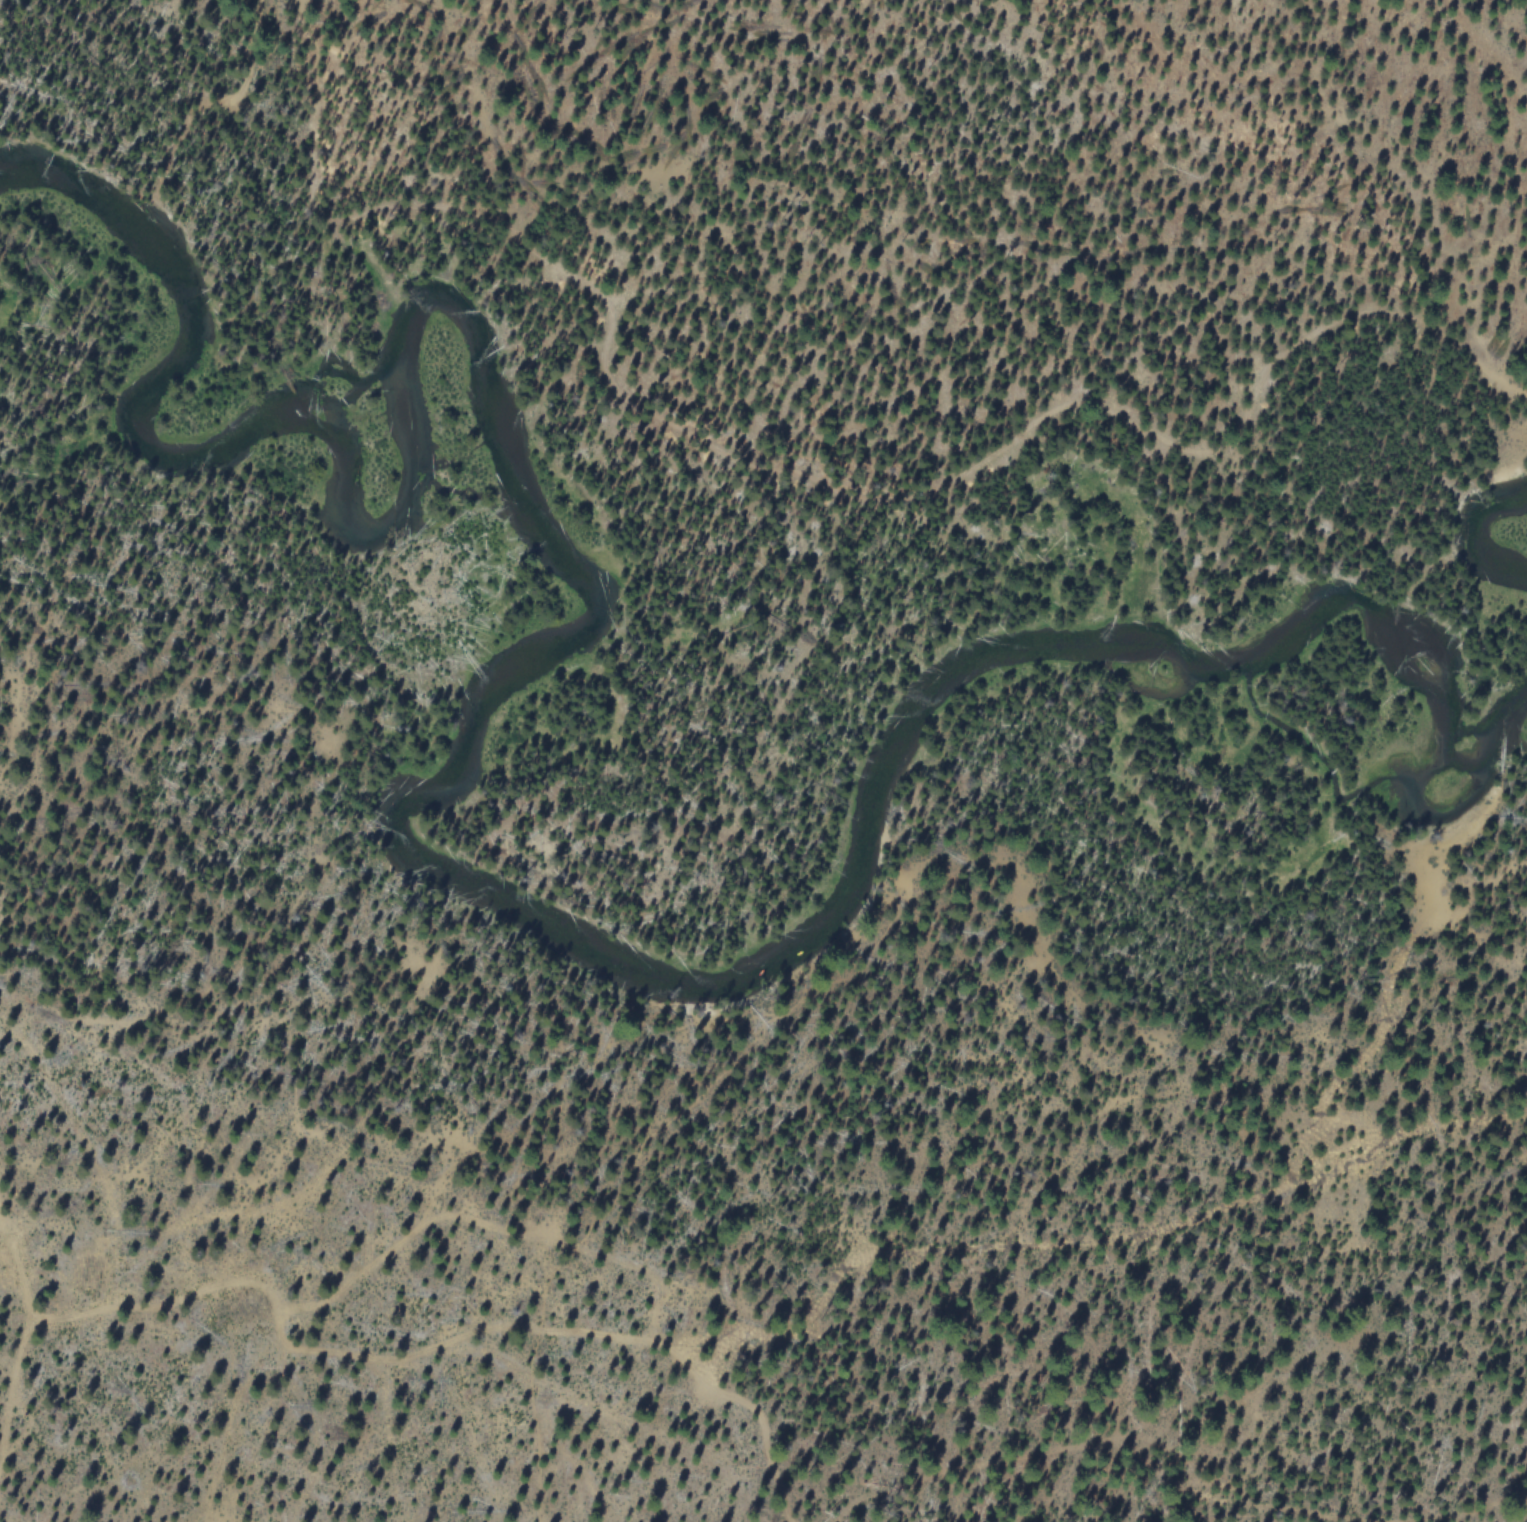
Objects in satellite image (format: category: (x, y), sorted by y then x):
river: (1479, 539)
river: (401, 807)
road: (775, 1315)
road: (739, 1426)

